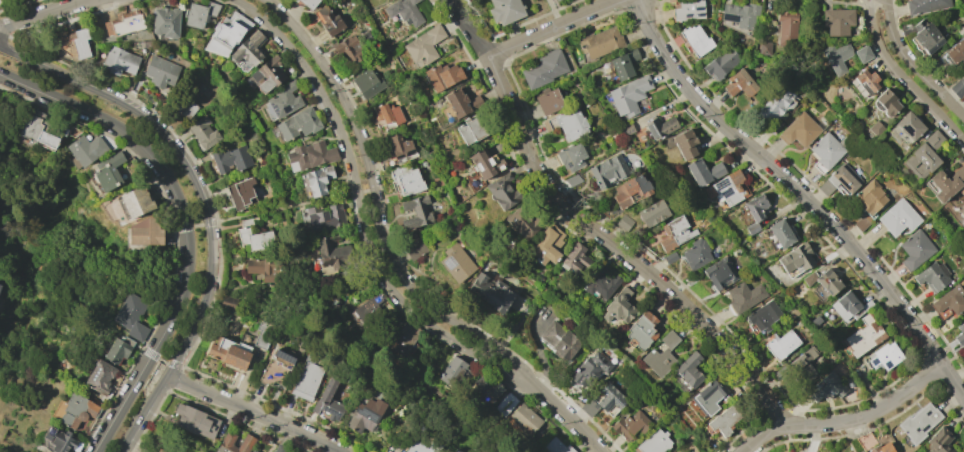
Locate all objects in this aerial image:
building: (295, 0)
building: (554, 0)
building: (309, 3)
building: (925, 5)
building: (687, 10)
building: (403, 11)
building: (505, 11)
road: (46, 14)
building: (200, 14)
building: (740, 14)
building: (329, 21)
building: (838, 21)
building: (165, 22)
building: (125, 23)
building: (786, 27)
road: (555, 29)
building: (225, 34)
building: (926, 36)
building: (696, 39)
building: (75, 42)
building: (600, 42)
building: (423, 45)
building: (764, 48)
building: (350, 49)
building: (248, 50)
building: (956, 51)
building: (862, 54)
building: (836, 57)
building: (120, 61)
building: (721, 62)
building: (623, 64)
road: (913, 64)
building: (544, 69)
building: (160, 71)
building: (268, 74)
building: (443, 76)
road: (904, 78)
building: (866, 81)
building: (368, 82)
building: (739, 83)
building: (958, 87)
building: (628, 95)
building: (284, 99)
building: (548, 101)
building: (461, 102)
building: (885, 103)
building: (775, 106)
building: (186, 108)
building: (387, 114)
building: (298, 123)
building: (571, 124)
building: (909, 125)
building: (659, 126)
building: (876, 128)
building: (623, 129)
building: (801, 129)
building: (470, 130)
building: (37, 131)
building: (203, 132)
building: (680, 144)
building: (401, 147)
building: (827, 150)
building: (84, 151)
building: (311, 155)
building: (571, 157)
building: (923, 157)
building: (204, 158)
building: (231, 158)
building: (485, 164)
building: (607, 171)
building: (108, 172)
building: (703, 172)
building: (406, 179)
building: (318, 180)
building: (839, 180)
building: (944, 184)
building: (728, 188)
building: (503, 191)
building: (630, 191)
building: (961, 191)
building: (241, 193)
road: (803, 194)
building: (869, 198)
building: (136, 200)
road: (380, 203)
road: (361, 205)
building: (963, 206)
road: (202, 207)
building: (755, 211)
building: (416, 212)
building: (653, 213)
road: (259, 214)
building: (327, 217)
building: (898, 217)
road: (186, 222)
building: (522, 222)
building: (624, 222)
building: (860, 223)
road: (593, 230)
building: (674, 232)
building: (146, 233)
building: (780, 233)
building: (254, 236)
building: (547, 244)
building: (414, 247)
building: (915, 249)
building: (696, 253)
building: (330, 255)
building: (670, 257)
building: (575, 258)
building: (797, 258)
building: (456, 262)
building: (264, 269)
building: (720, 273)
building: (932, 276)
building: (823, 281)
building: (600, 283)
building: (490, 292)
building: (1, 294)
building: (821, 294)
building: (744, 296)
building: (949, 300)
building: (228, 303)
building: (619, 306)
building: (846, 306)
building: (370, 310)
building: (130, 315)
building: (763, 316)
building: (641, 331)
building: (262, 334)
building: (960, 334)
building: (863, 336)
building: (403, 338)
building: (559, 340)
building: (781, 344)
building: (118, 349)
building: (229, 352)
building: (661, 355)
building: (884, 356)
building: (803, 365)
building: (275, 367)
building: (590, 369)
building: (688, 371)
building: (455, 374)
building: (100, 377)
building: (306, 378)
building: (487, 386)
building: (826, 387)
building: (707, 397)
building: (610, 398)
building: (328, 400)
building: (505, 404)
building: (589, 407)
building: (77, 410)
road: (253, 412)
road: (564, 413)
building: (365, 415)
building: (524, 418)
building: (724, 420)
road: (847, 420)
building: (195, 421)
building: (919, 423)
building: (630, 425)
building: (60, 440)
building: (865, 441)
building: (940, 441)
building: (246, 442)
building: (653, 442)
building: (414, 446)
building: (555, 446)
building: (279, 448)
building: (881, 448)
building: (159, 450)
building: (428, 450)
building: (455, 450)
building: (252, 451)
building: (679, 451)

